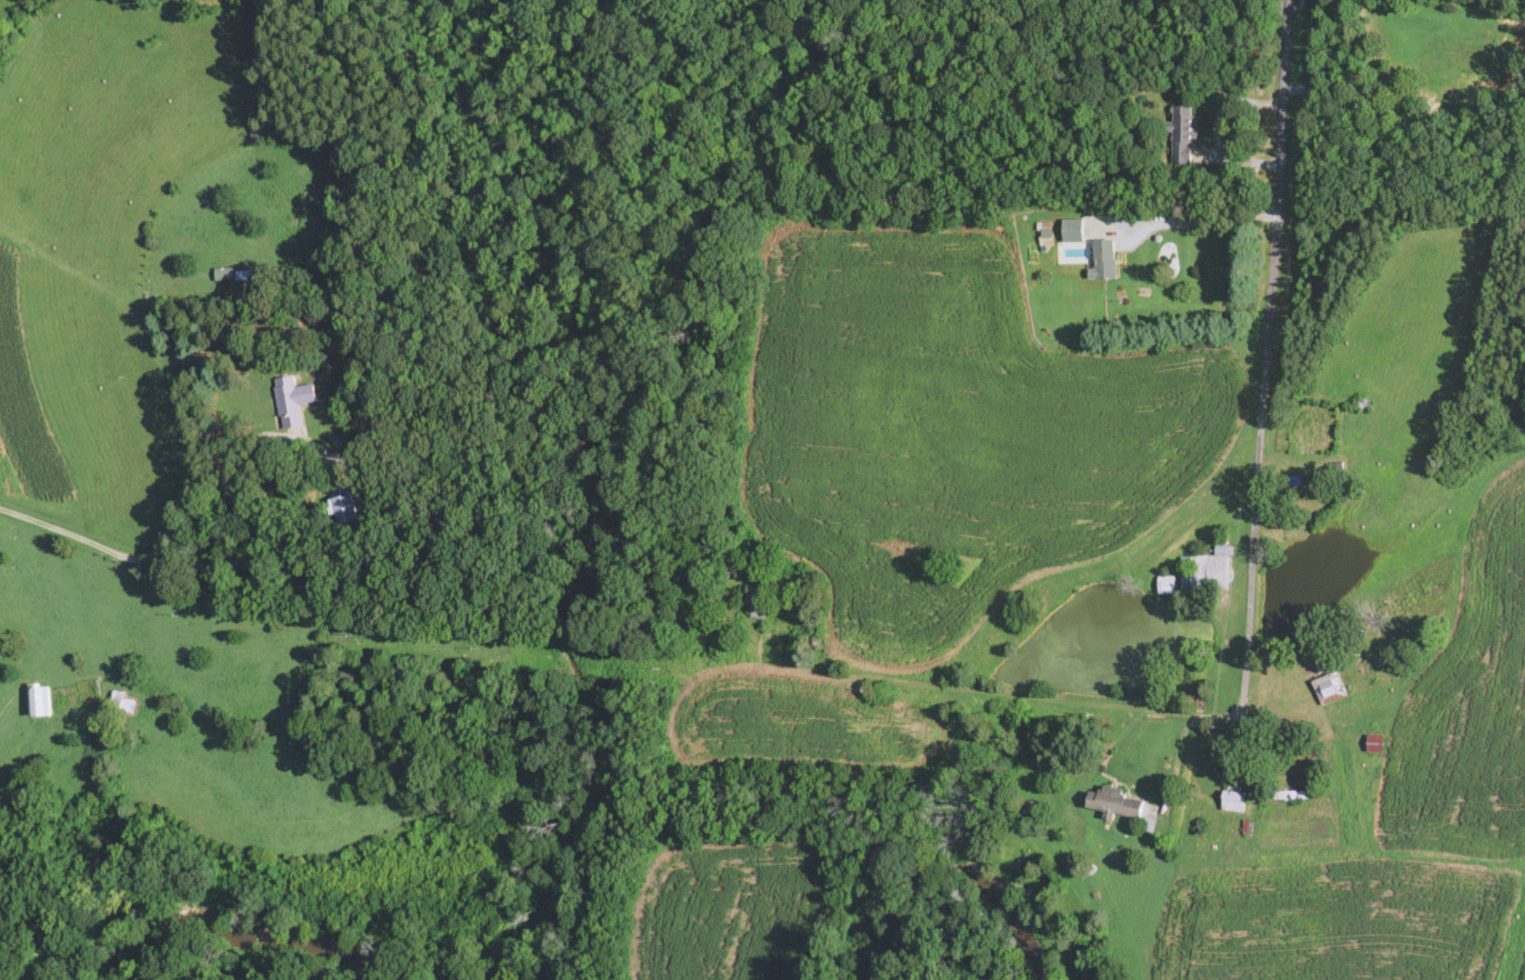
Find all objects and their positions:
building: (1184, 132)
road: (1199, 220)
building: (1073, 229)
building: (1105, 258)
building: (246, 272)
road: (1265, 384)
building: (292, 399)
building: (1303, 484)
building: (345, 502)
road: (151, 542)
building: (1209, 572)
building: (1167, 584)
building: (756, 600)
building: (1330, 688)
road: (1000, 694)
building: (40, 699)
building: (124, 704)
building: (1376, 743)
road: (1178, 758)
building: (1292, 795)
building: (1234, 800)
building: (1114, 802)
river: (969, 900)
river: (222, 954)
river: (14, 973)

